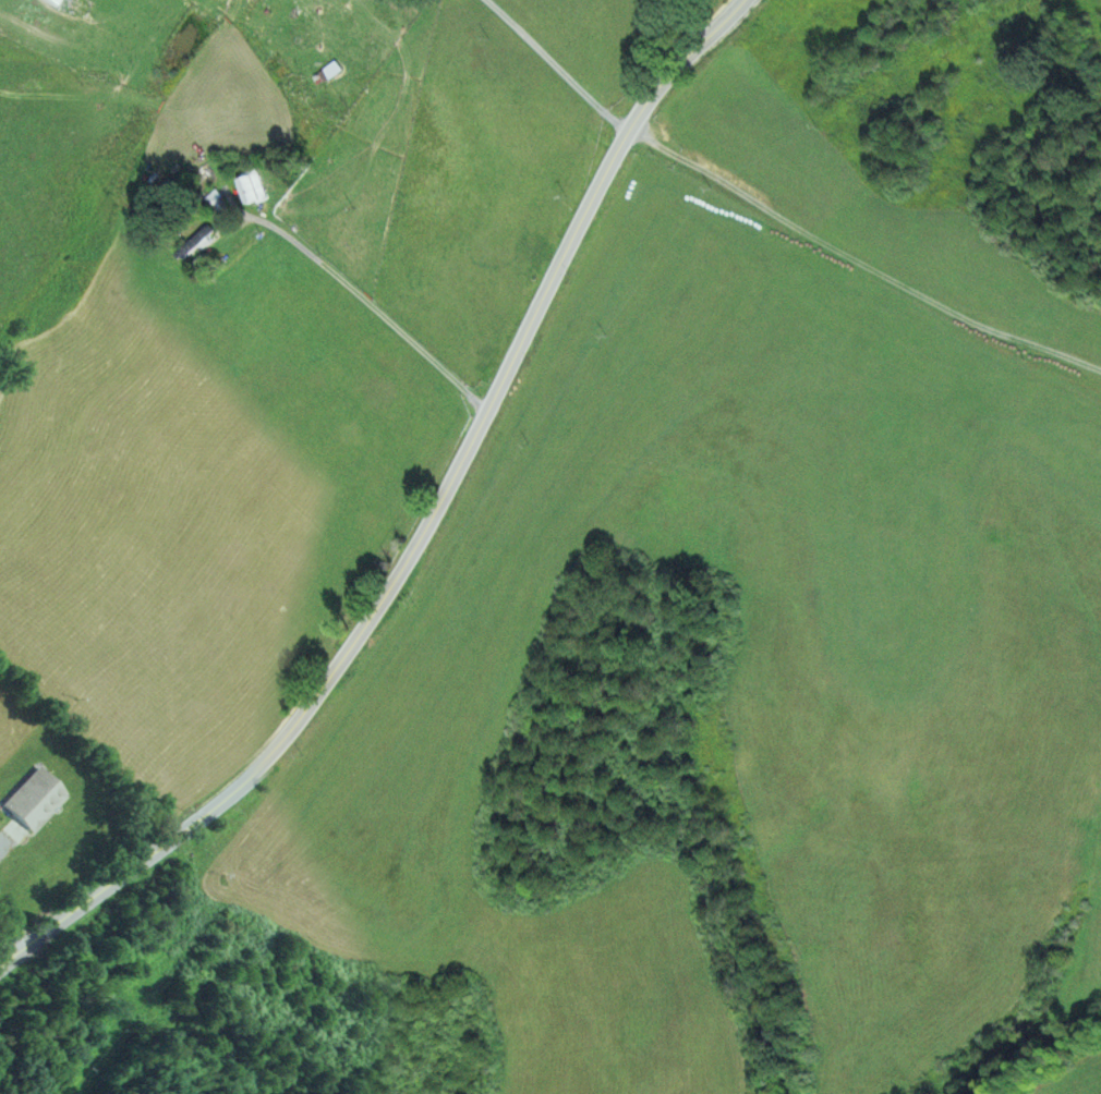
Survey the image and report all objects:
building: (65, 5)
building: (247, 190)
road: (774, 238)
building: (198, 243)
road: (355, 297)
road: (427, 526)
building: (25, 802)

